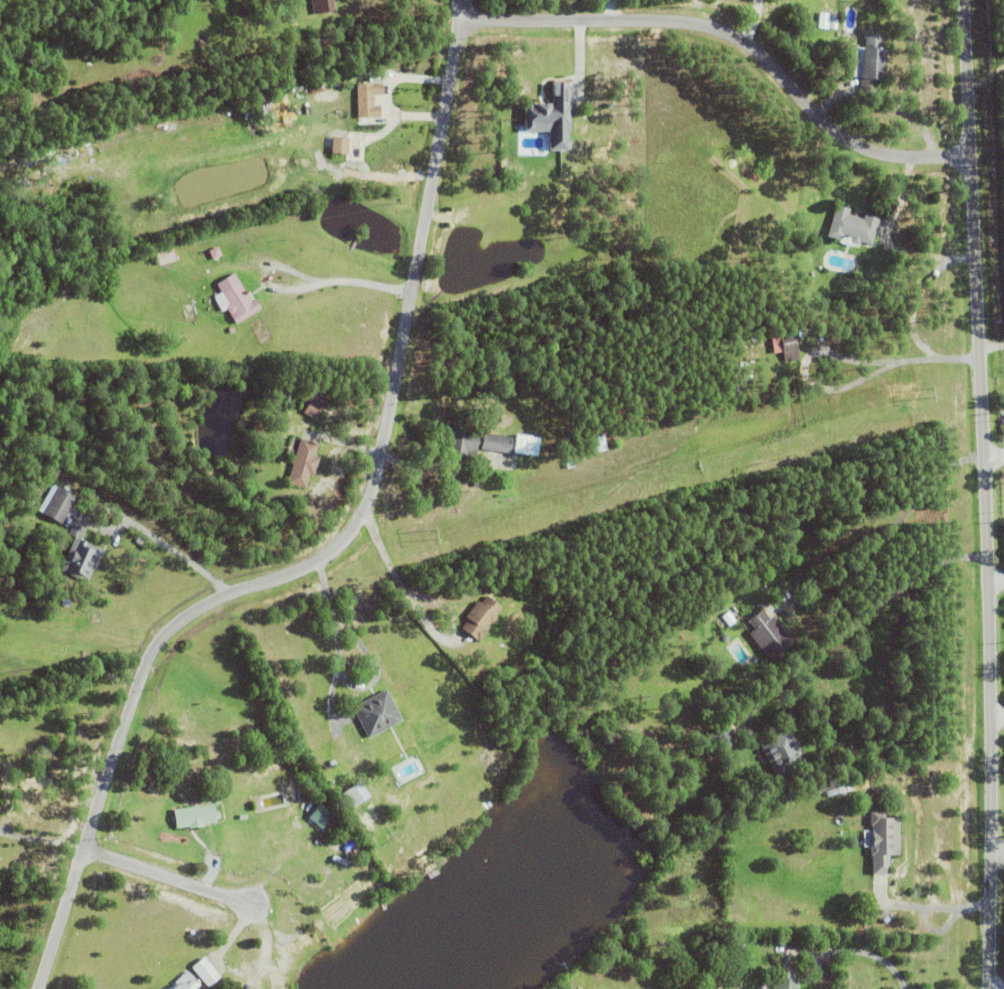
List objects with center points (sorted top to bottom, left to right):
building: (322, 5)
road: (471, 11)
building: (833, 19)
road: (743, 41)
building: (320, 43)
building: (869, 60)
building: (369, 93)
building: (554, 116)
building: (330, 123)
building: (337, 143)
building: (852, 226)
building: (116, 243)
building: (214, 251)
building: (166, 255)
road: (339, 281)
building: (235, 298)
building: (789, 344)
road: (992, 344)
building: (280, 393)
building: (289, 397)
building: (314, 404)
building: (473, 440)
building: (599, 442)
building: (526, 444)
road: (994, 459)
building: (304, 462)
building: (570, 463)
road: (986, 494)
building: (58, 505)
road: (172, 548)
road: (329, 551)
building: (80, 558)
road: (997, 580)
road: (401, 584)
building: (480, 617)
building: (730, 617)
road: (856, 620)
building: (767, 634)
building: (725, 638)
road: (345, 672)
building: (377, 713)
road: (998, 716)
building: (723, 736)
building: (702, 751)
building: (782, 751)
building: (379, 787)
building: (844, 788)
building: (884, 789)
building: (830, 790)
building: (353, 796)
building: (306, 800)
building: (891, 807)
building: (194, 816)
building: (321, 816)
building: (302, 817)
building: (883, 840)
road: (998, 851)
road: (176, 879)
road: (852, 950)
building: (758, 968)
building: (205, 972)
building: (785, 978)
building: (185, 982)
building: (168, 988)

